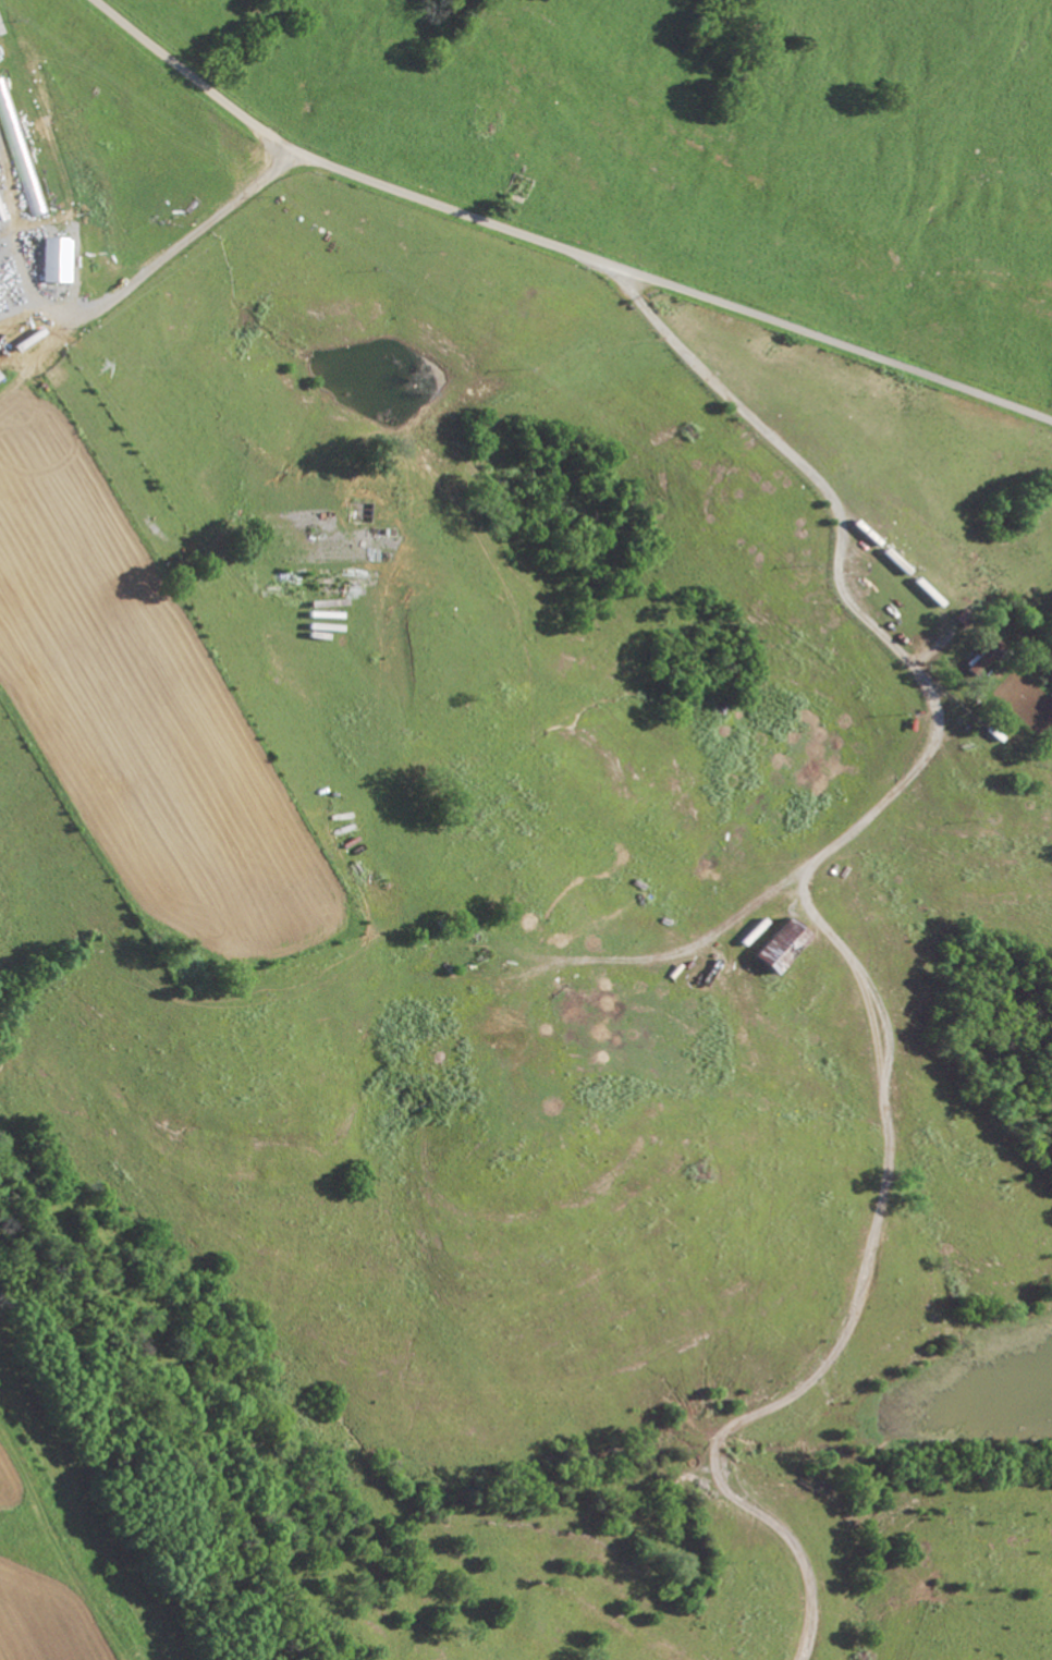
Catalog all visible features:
road: (556, 243)
road: (171, 253)
building: (53, 260)
building: (978, 661)
road: (825, 930)
building: (774, 948)

